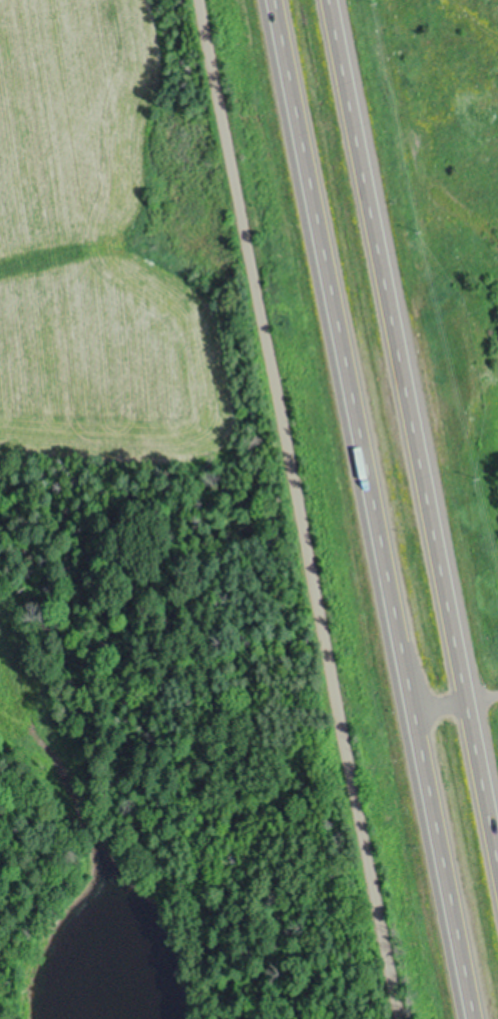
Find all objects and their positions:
road: (413, 433)
road: (302, 509)
road: (371, 509)

